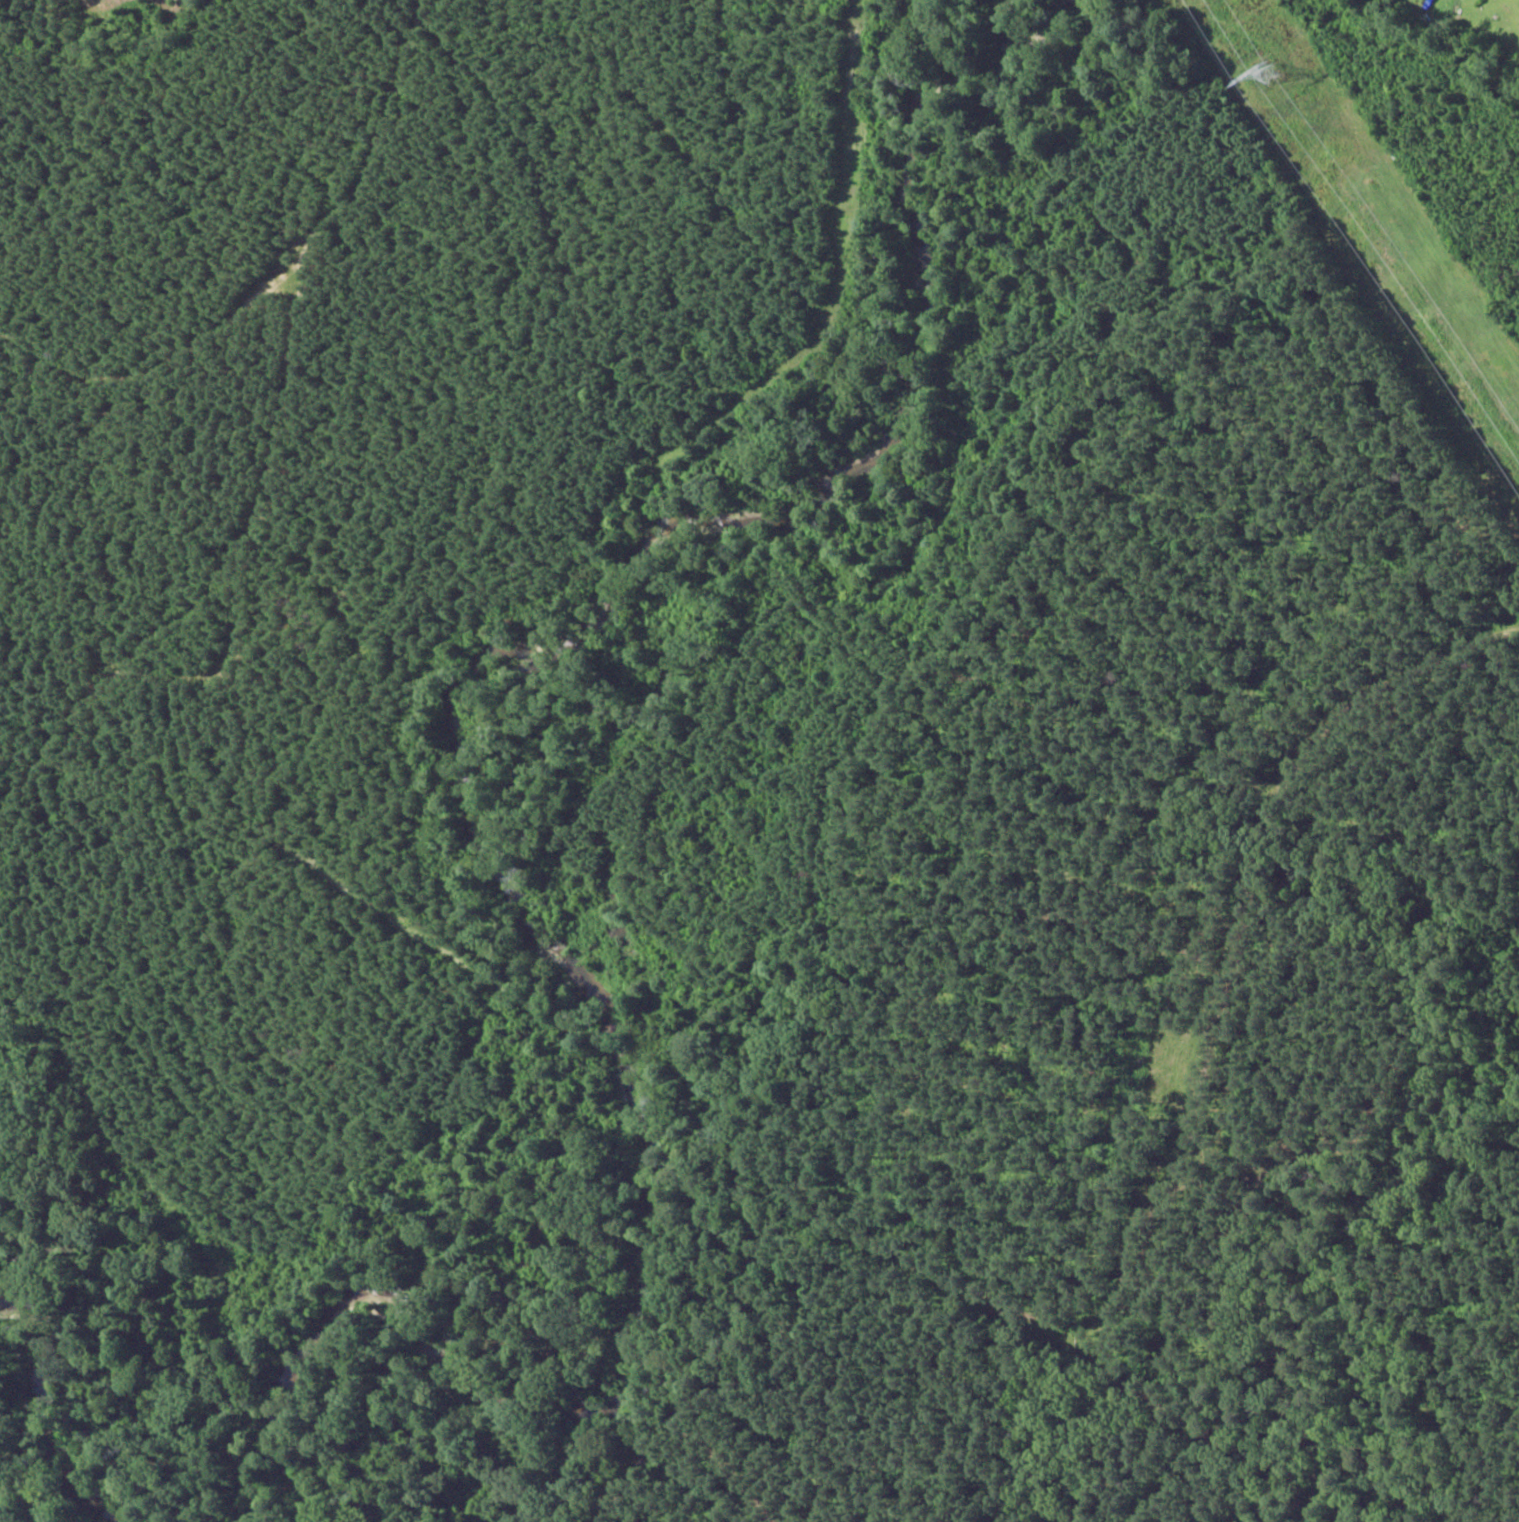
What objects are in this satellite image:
power tower: (1269, 76)

